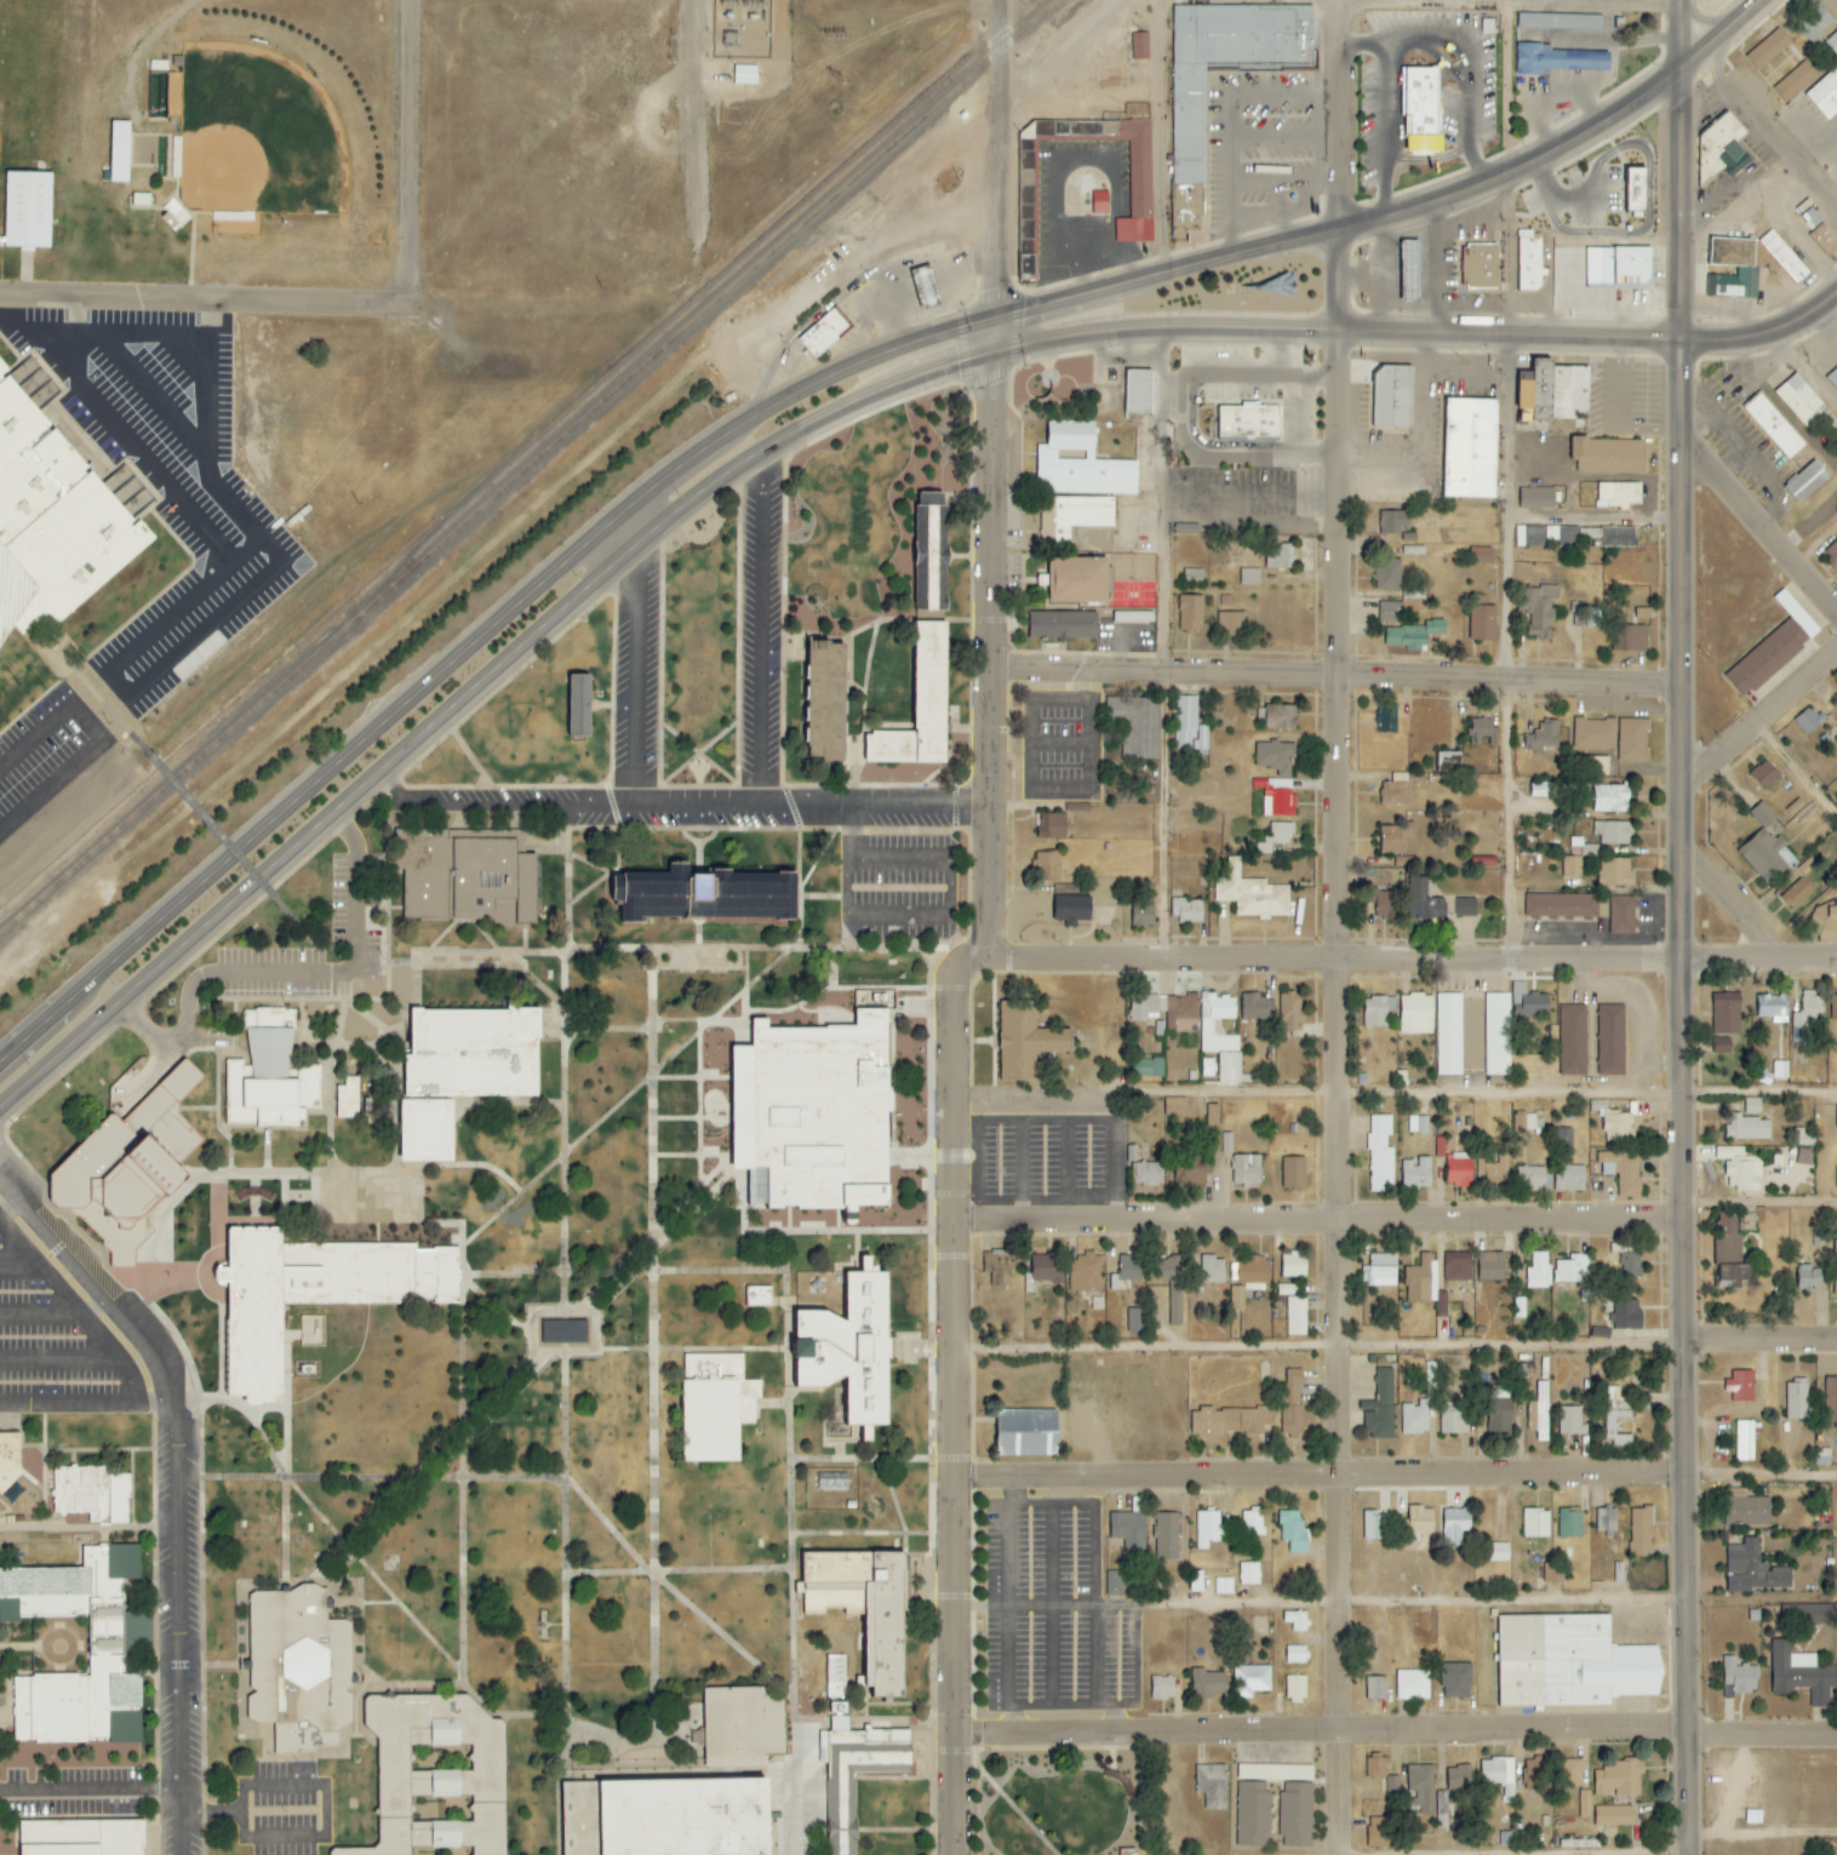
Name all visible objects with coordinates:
road: (1653, 1)
building: (1560, 21)
building: (1814, 23)
road: (1427, 27)
building: (1487, 27)
power substation: (739, 28)
road: (1684, 32)
power tower: (834, 34)
building: (1832, 44)
road: (1060, 45)
building: (1139, 46)
building: (1767, 50)
building: (1557, 59)
building: (743, 75)
power tower: (835, 80)
building: (1795, 81)
building: (1825, 95)
building: (1421, 109)
road: (692, 110)
road: (1774, 115)
building: (1189, 127)
park: (256, 136)
road: (1161, 136)
building: (1721, 145)
road: (405, 149)
building: (119, 151)
road: (997, 159)
road: (1334, 165)
building: (1140, 179)
building: (1635, 191)
building: (139, 199)
building: (1099, 202)
building: (27, 208)
road: (1398, 210)
building: (1025, 216)
road: (191, 236)
building: (1824, 240)
building: (1784, 258)
building: (1528, 260)
building: (1478, 265)
road: (24, 267)
building: (1618, 267)
building: (1409, 270)
building: (1747, 270)
road: (198, 298)
railway: (694, 303)
railway: (708, 307)
traffic signals: (992, 319)
building: (823, 333)
traffic signals: (992, 353)
road: (1280, 353)
road: (1808, 366)
road: (1247, 374)
building: (1832, 378)
building: (1138, 391)
building: (1552, 393)
building: (1394, 397)
building: (1799, 401)
road: (1287, 410)
road: (807, 423)
building: (1247, 423)
building: (1772, 425)
road: (1232, 445)
building: (1469, 448)
building: (1608, 456)
building: (1080, 463)
parking lot: (178, 469)
building: (1805, 481)
building: (1618, 494)
building: (48, 497)
stadium: (48, 497)
building: (1534, 498)
building: (1080, 515)
road: (1758, 522)
building: (1394, 526)
building: (1573, 536)
building: (1530, 537)
building: (1618, 537)
building: (1480, 555)
building: (1831, 555)
building: (929, 557)
road: (960, 557)
building: (1278, 557)
building: (1138, 563)
building: (1194, 576)
building: (1387, 576)
building: (1249, 578)
building: (1076, 580)
building: (1391, 607)
building: (1539, 612)
building: (1189, 613)
road: (877, 614)
building: (1133, 618)
building: (1591, 620)
building: (806, 623)
building: (1482, 623)
building: (1060, 625)
road: (760, 626)
road: (862, 629)
parking lot: (759, 630)
building: (1413, 635)
road: (988, 637)
building: (1630, 639)
road: (1161, 643)
road: (468, 647)
road: (1506, 648)
building: (1774, 648)
road: (635, 663)
road: (1334, 671)
road: (78, 674)
parking lot: (635, 676)
building: (825, 699)
building: (918, 704)
building: (577, 705)
road: (1758, 716)
building: (1277, 718)
building: (1385, 718)
building: (1808, 721)
building: (1189, 726)
building: (1595, 734)
building: (1484, 738)
building: (1543, 738)
building: (1836, 739)
building: (1632, 740)
road: (855, 752)
road: (697, 754)
road: (469, 757)
building: (1275, 757)
building: (1447, 763)
flagpole: (705, 765)
flagpole: (691, 766)
flagpole: (697, 766)
building: (1591, 766)
road: (406, 768)
road: (1793, 768)
railway: (181, 773)
building: (1764, 775)
road: (666, 778)
parking lot: (53, 780)
road: (792, 785)
building: (1539, 790)
building: (1396, 794)
building: (1276, 797)
building: (1610, 800)
road: (496, 805)
road: (809, 805)
road: (954, 808)
road: (210, 826)
building: (1051, 826)
road: (849, 828)
road: (635, 829)
road: (697, 829)
road: (345, 830)
road: (749, 830)
building: (1613, 832)
building: (1278, 834)
building: (1395, 837)
road: (966, 845)
building: (1263, 848)
building: (1589, 851)
building: (1767, 857)
building: (1047, 868)
building: (1572, 868)
building: (1615, 874)
building: (467, 875)
road: (607, 875)
parking lot: (897, 887)
building: (1249, 894)
building: (1796, 894)
building: (706, 895)
road: (818, 897)
parking lot: (353, 901)
building: (1381, 905)
building: (1560, 905)
building: (1429, 906)
building: (1465, 908)
building: (1070, 909)
road: (1732, 909)
building: (1186, 910)
building: (1141, 915)
building: (1621, 915)
road: (940, 916)
building: (1830, 924)
road: (304, 934)
road: (523, 939)
road: (608, 947)
road: (475, 952)
road: (1334, 957)
road: (1681, 958)
road: (1758, 962)
road: (345, 973)
road: (534, 981)
road: (858, 989)
road: (387, 1000)
building: (1528, 1003)
building: (1773, 1006)
building: (1144, 1007)
building: (1255, 1007)
building: (1291, 1008)
building: (1835, 1008)
road: (778, 1010)
building: (1378, 1010)
building: (1181, 1012)
building: (1415, 1014)
building: (1805, 1014)
building: (1726, 1017)
road: (700, 1020)
road: (309, 1029)
road: (596, 1030)
building: (1449, 1034)
building: (1497, 1034)
road: (182, 1037)
building: (1219, 1037)
building: (1024, 1040)
building: (1572, 1041)
building: (1609, 1041)
building: (1721, 1044)
building: (1146, 1067)
road: (562, 1071)
building: (269, 1074)
building: (463, 1074)
road: (216, 1081)
road: (328, 1086)
road: (1334, 1093)
road: (1481, 1093)
road: (1037, 1094)
building: (347, 1099)
building: (1752, 1106)
building: (1174, 1107)
road: (199, 1109)
building: (824, 1111)
building: (1418, 1124)
building: (1618, 1127)
building: (1749, 1128)
building: (1803, 1138)
parking lot: (1048, 1146)
road: (265, 1151)
building: (1379, 1153)
road: (560, 1155)
building: (1803, 1156)
building: (1493, 1167)
building: (128, 1169)
building: (1246, 1169)
building: (1458, 1169)
building: (1739, 1169)
building: (1620, 1170)
building: (1293, 1173)
building: (1417, 1173)
road: (302, 1174)
building: (1148, 1174)
building: (1189, 1175)
building: (1836, 1175)
building: (1530, 1178)
building: (1572, 1178)
road: (10, 1184)
road: (702, 1191)
road: (1761, 1202)
road: (10, 1207)
road: (1316, 1220)
building: (1746, 1221)
road: (835, 1231)
road: (88, 1242)
building: (1729, 1254)
building: (1293, 1265)
building: (1630, 1265)
building: (1490, 1266)
building: (997, 1267)
building: (1128, 1267)
building: (1457, 1267)
road: (18, 1269)
building: (1045, 1269)
building: (1572, 1269)
building: (1835, 1269)
road: (673, 1271)
building: (1380, 1271)
building: (1536, 1271)
building: (1253, 1272)
building: (1085, 1273)
building: (1808, 1278)
road: (95, 1282)
building: (1425, 1286)
road: (199, 1295)
building: (298, 1296)
building: (759, 1298)
road: (929, 1299)
road: (778, 1301)
road: (95, 1307)
road: (801, 1309)
road: (38, 1311)
road: (75, 1312)
building: (1627, 1315)
building: (1295, 1316)
building: (1134, 1321)
building: (562, 1332)
fountain: (565, 1334)
road: (1761, 1341)
parking lot: (56, 1342)
road: (1317, 1347)
road: (691, 1349)
building: (848, 1350)
road: (597, 1353)
road: (59, 1359)
road: (652, 1361)
building: (1740, 1386)
road: (951, 1395)
building: (1796, 1401)
building: (1831, 1401)
building: (1292, 1402)
road: (87, 1404)
building: (1380, 1408)
building: (710, 1410)
building: (1499, 1412)
building: (1541, 1412)
building: (1414, 1418)
building: (1453, 1418)
building: (1614, 1418)
building: (1226, 1421)
building: (1570, 1421)
road: (459, 1426)
building: (1025, 1433)
building: (1744, 1441)
building: (1822, 1456)
building: (8, 1459)
road: (858, 1459)
road: (273, 1460)
road: (428, 1465)
road: (788, 1473)
road: (1317, 1476)
road: (1759, 1476)
road: (382, 1478)
building: (90, 1494)
road: (893, 1502)
building: (1746, 1511)
building: (1606, 1519)
building: (1419, 1522)
building: (1252, 1523)
building: (1535, 1523)
road: (605, 1524)
building: (1569, 1524)
building: (1129, 1525)
building: (1373, 1525)
building: (1454, 1527)
building: (1207, 1528)
building: (1292, 1530)
building: (1641, 1533)
road: (858, 1534)
building: (1167, 1536)
building: (1498, 1552)
road: (562, 1565)
building: (1752, 1569)
road: (675, 1571)
building: (1249, 1574)
building: (1553, 1574)
building: (1114, 1584)
building: (1224, 1586)
road: (384, 1590)
road: (1317, 1603)
building: (863, 1608)
road: (177, 1611)
parking lot: (1052, 1611)
building: (1297, 1621)
road: (721, 1634)
building: (103, 1649)
building: (1295, 1655)
building: (1569, 1662)
building: (298, 1667)
building: (1801, 1674)
building: (835, 1677)
building: (1739, 1678)
building: (1251, 1681)
building: (1457, 1681)
building: (1207, 1683)
building: (1413, 1685)
building: (1162, 1688)
building: (1375, 1688)
building: (1295, 1689)
building: (737, 1724)
road: (1394, 1730)
road: (607, 1746)
building: (1377, 1768)
building: (411, 1771)
building: (1274, 1773)
building: (1535, 1773)
building: (1569, 1773)
building: (1499, 1776)
building: (1459, 1779)
building: (1619, 1779)
road: (780, 1780)
building: (1212, 1786)
building: (1392, 1786)
road: (90, 1790)
building: (1421, 1793)
building: (1584, 1804)
parking lot: (282, 1809)
road: (211, 1811)
building: (840, 1814)
building: (1252, 1814)
building: (1295, 1815)
building: (666, 1816)
building: (1613, 1816)
building: (1379, 1832)
road: (320, 1834)
building: (81, 1837)
road: (1759, 1838)

